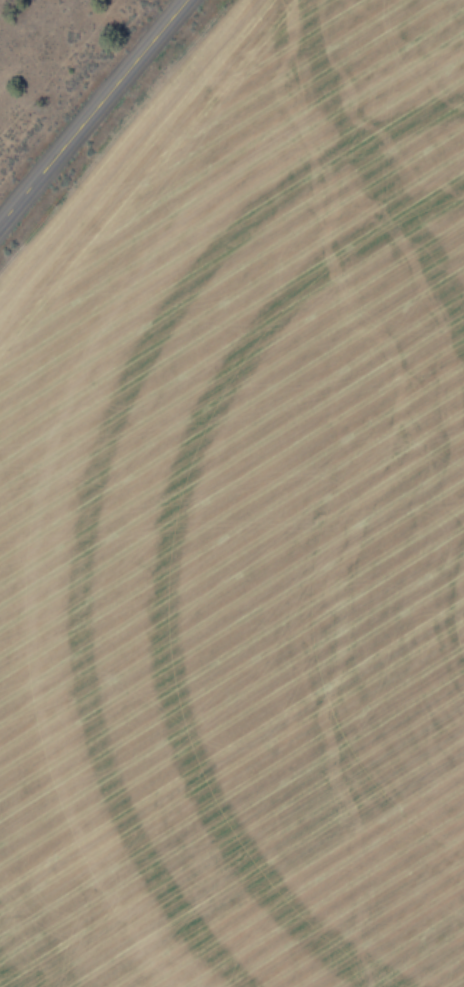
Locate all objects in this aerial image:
road: (93, 112)
crop: (243, 522)

